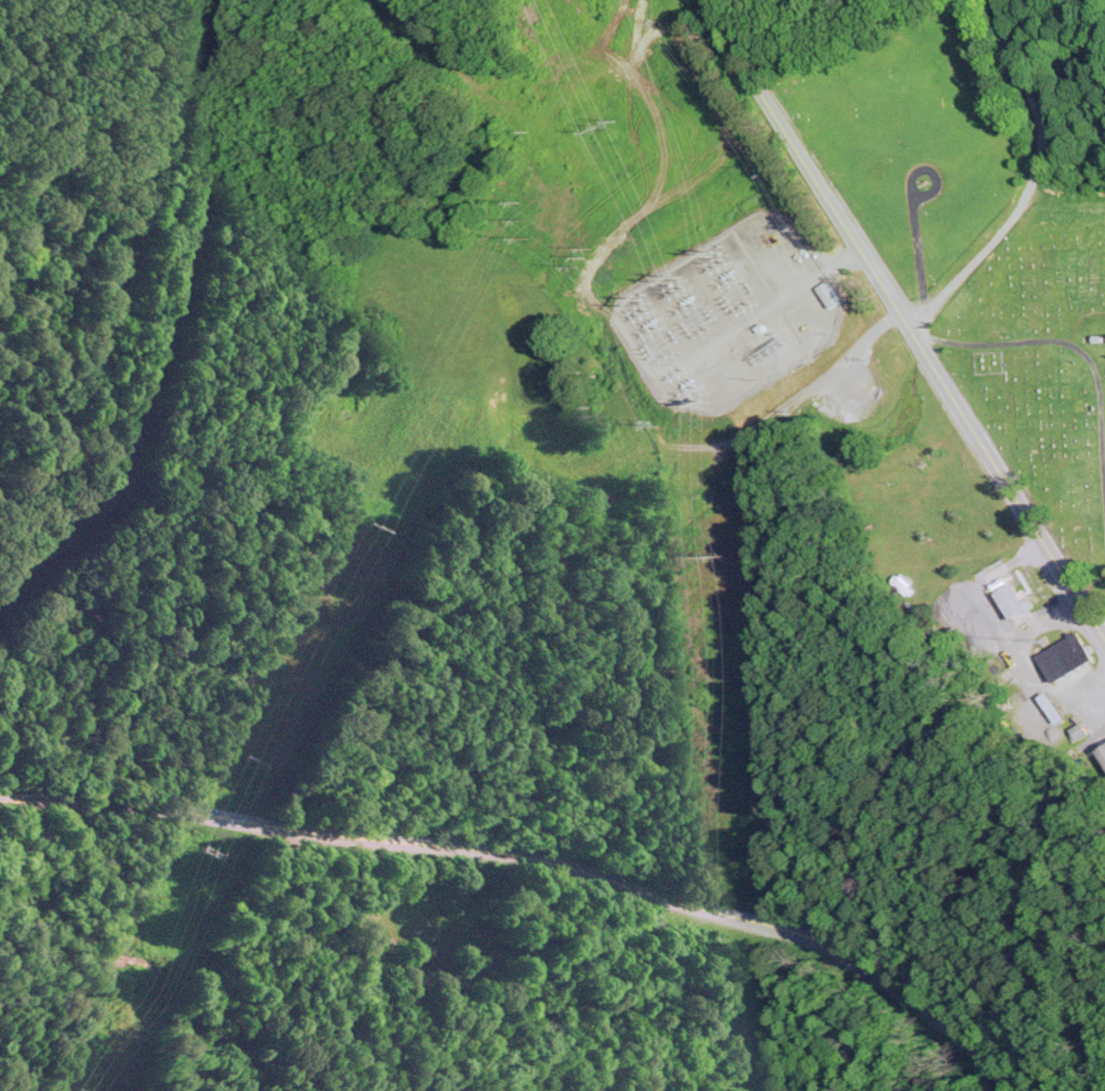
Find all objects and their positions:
power tower: (607, 121)
road: (1030, 181)
power tower: (527, 214)
park: (981, 254)
power tower: (593, 261)
power substation: (730, 312)
road: (902, 319)
power tower: (365, 524)
building: (1016, 599)
building: (1068, 655)
road: (542, 858)

